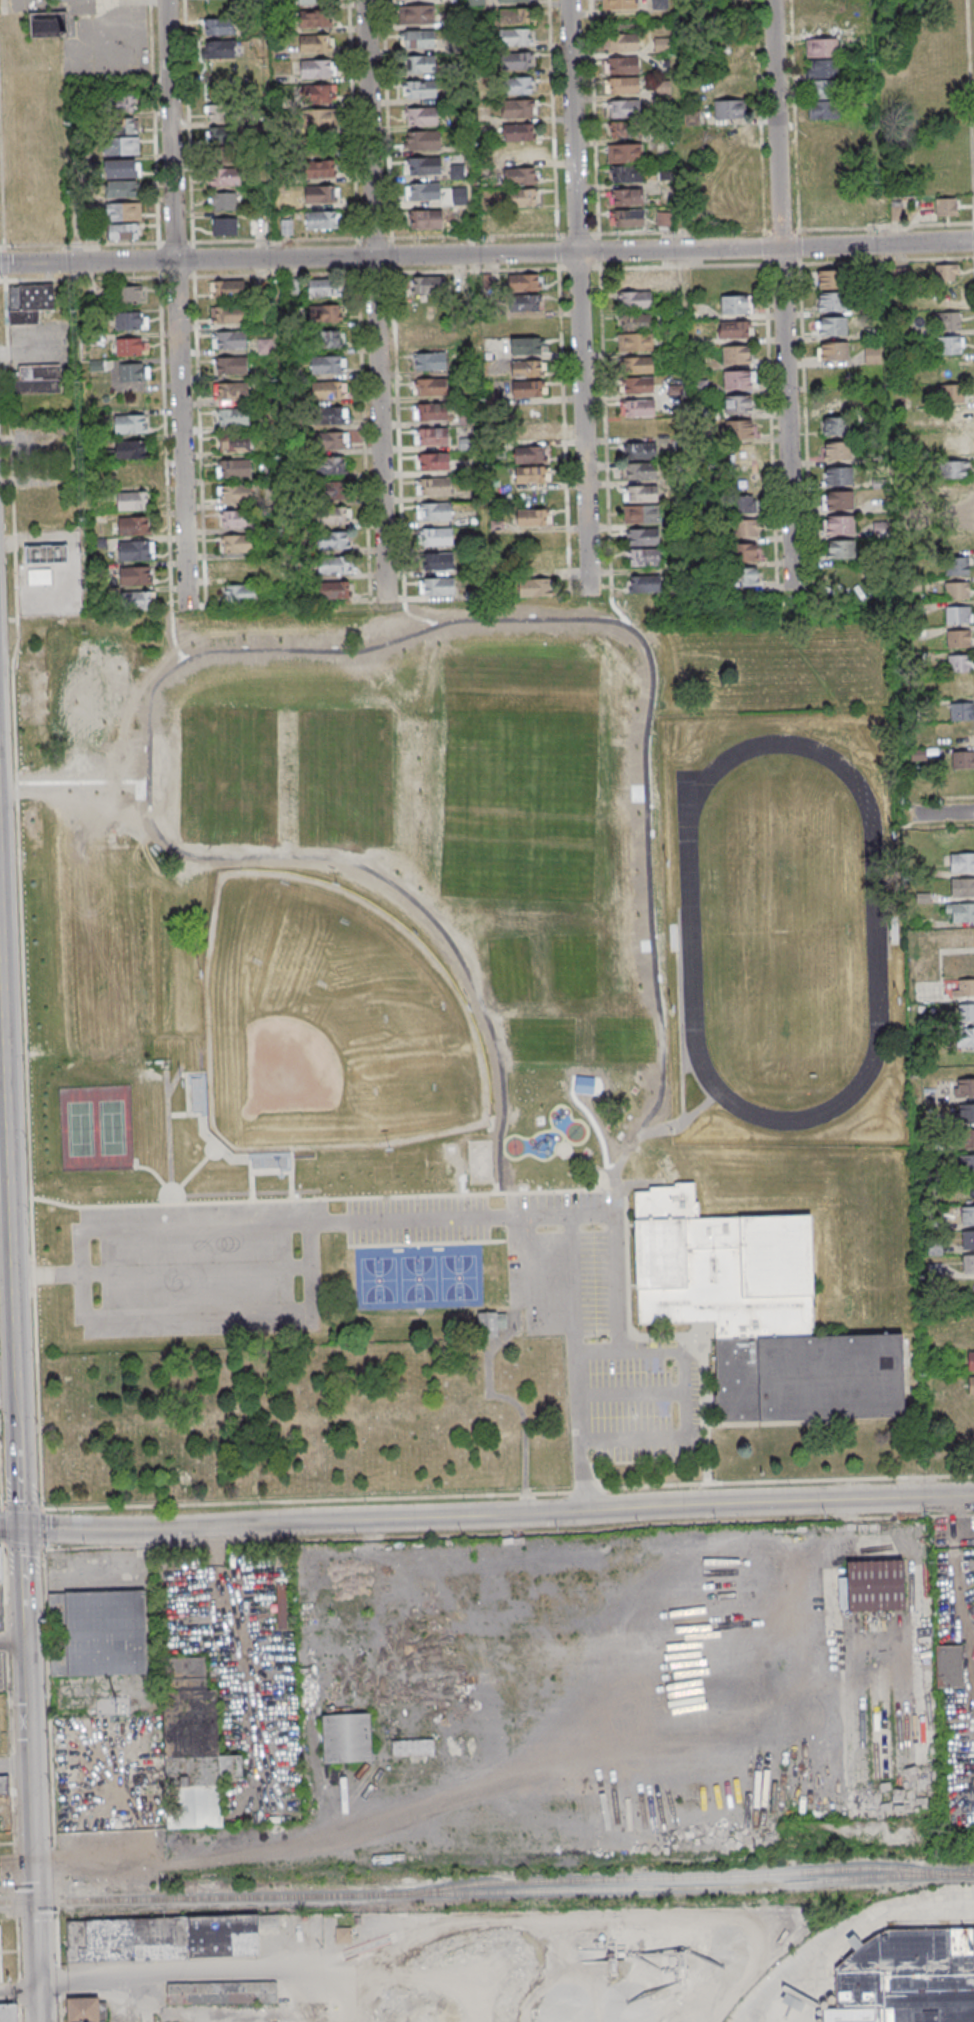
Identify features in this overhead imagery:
building: (312, 1)
building: (514, 1)
building: (624, 4)
building: (421, 13)
building: (516, 16)
building: (314, 18)
building: (46, 25)
building: (220, 26)
building: (821, 27)
building: (517, 37)
building: (421, 39)
building: (316, 43)
building: (625, 43)
building: (221, 48)
building: (821, 49)
building: (518, 60)
building: (422, 64)
building: (626, 64)
building: (317, 68)
building: (822, 70)
building: (519, 86)
building: (626, 86)
building: (662, 89)
building: (423, 90)
building: (319, 93)
building: (823, 100)
building: (120, 104)
building: (627, 109)
building: (520, 110)
building: (729, 110)
building: (222, 112)
building: (424, 116)
road: (554, 117)
building: (319, 119)
building: (122, 126)
building: (624, 129)
building: (517, 132)
building: (225, 134)
road: (596, 134)
building: (427, 140)
building: (124, 146)
building: (624, 152)
building: (225, 153)
building: (524, 153)
building: (427, 165)
building: (124, 168)
building: (319, 168)
building: (627, 173)
building: (521, 175)
building: (224, 176)
building: (125, 188)
building: (427, 192)
building: (321, 195)
building: (522, 197)
building: (627, 197)
building: (225, 202)
building: (945, 206)
building: (126, 212)
building: (826, 214)
building: (870, 215)
building: (627, 218)
building: (425, 219)
building: (321, 220)
building: (664, 220)
building: (521, 221)
building: (227, 227)
building: (126, 232)
road: (487, 253)
road: (888, 262)
road: (702, 266)
building: (947, 272)
building: (636, 279)
building: (833, 279)
building: (524, 281)
building: (426, 284)
building: (290, 286)
building: (321, 288)
building: (231, 289)
building: (129, 294)
road: (786, 294)
road: (581, 297)
road: (378, 300)
building: (637, 300)
building: (29, 302)
building: (525, 302)
building: (835, 302)
road: (179, 305)
building: (739, 305)
building: (328, 314)
building: (232, 315)
building: (131, 320)
building: (948, 320)
building: (637, 322)
building: (836, 326)
building: (737, 330)
building: (429, 335)
building: (329, 339)
building: (234, 340)
building: (637, 342)
building: (949, 344)
building: (526, 345)
building: (129, 346)
building: (264, 346)
building: (491, 349)
building: (837, 351)
road: (81, 353)
building: (741, 355)
building: (872, 355)
building: (431, 362)
building: (327, 365)
building: (639, 365)
building: (234, 366)
building: (528, 368)
building: (133, 371)
building: (36, 380)
building: (741, 380)
building: (639, 386)
building: (432, 388)
building: (525, 388)
building: (327, 390)
building: (234, 392)
building: (954, 394)
building: (494, 400)
building: (836, 400)
building: (739, 405)
building: (640, 409)
building: (433, 412)
building: (327, 415)
building: (236, 418)
building: (465, 418)
building: (130, 423)
building: (839, 427)
building: (739, 430)
building: (530, 431)
road: (282, 433)
building: (434, 437)
building: (333, 440)
building: (237, 442)
building: (954, 446)
building: (131, 449)
building: (640, 450)
building: (840, 451)
building: (531, 454)
building: (742, 455)
building: (435, 462)
building: (332, 466)
building: (238, 469)
building: (955, 470)
building: (642, 471)
building: (532, 474)
building: (841, 477)
building: (436, 487)
building: (335, 489)
building: (643, 494)
building: (239, 495)
building: (954, 495)
building: (133, 500)
building: (843, 501)
building: (745, 504)
building: (437, 512)
building: (644, 514)
building: (333, 515)
building: (956, 515)
building: (533, 517)
building: (239, 519)
building: (133, 525)
building: (843, 526)
building: (746, 527)
building: (437, 537)
building: (645, 538)
building: (956, 540)
building: (333, 541)
building: (240, 545)
building: (135, 550)
building: (844, 550)
building: (745, 552)
building: (45, 553)
building: (646, 558)
building: (536, 560)
building: (439, 562)
building: (333, 565)
road: (204, 567)
building: (959, 567)
building: (238, 568)
building: (134, 575)
building: (39, 576)
building: (746, 576)
building: (647, 584)
building: (439, 587)
building: (535, 587)
road: (793, 589)
building: (334, 590)
building: (959, 592)
building: (242, 594)
road: (591, 594)
building: (139, 600)
road: (386, 602)
road: (616, 610)
road: (415, 615)
building: (960, 616)
road: (172, 637)
building: (961, 640)
road: (276, 649)
building: (962, 664)
road: (816, 675)
building: (962, 688)
building: (963, 712)
building: (957, 737)
building: (962, 760)
park: (226, 776)
park: (343, 778)
park: (517, 778)
road: (81, 781)
road: (641, 792)
road: (933, 812)
road: (941, 813)
road: (897, 828)
building: (963, 863)
building: (964, 888)
building: (964, 914)
track: (782, 930)
stadium: (893, 930)
park: (783, 933)
road: (648, 945)
park: (574, 966)
park: (509, 967)
building: (966, 990)
park: (485, 1005)
road: (678, 1012)
building: (967, 1014)
park: (330, 1025)
park: (539, 1038)
park: (623, 1038)
building: (967, 1039)
road: (173, 1079)
building: (584, 1084)
road: (187, 1088)
building: (967, 1089)
road: (577, 1101)
road: (203, 1115)
building: (968, 1115)
park: (95, 1129)
road: (167, 1132)
building: (968, 1140)
road: (221, 1153)
park: (480, 1160)
road: (584, 1162)
building: (969, 1166)
road: (285, 1172)
road: (639, 1182)
road: (7, 1185)
road: (461, 1186)
road: (166, 1187)
road: (495, 1187)
building: (969, 1190)
road: (245, 1191)
road: (508, 1192)
road: (613, 1197)
building: (969, 1217)
parking lot: (418, 1220)
road: (346, 1222)
road: (438, 1243)
building: (970, 1243)
building: (935, 1248)
building: (970, 1266)
road: (311, 1267)
building: (721, 1268)
parking lot: (202, 1270)
road: (160, 1271)
road: (82, 1274)
park: (418, 1278)
road: (532, 1293)
road: (198, 1313)
building: (490, 1324)
parking lot: (598, 1331)
road: (487, 1346)
road: (576, 1363)
building: (972, 1363)
building: (808, 1378)
building: (973, 1386)
road: (631, 1394)
road: (684, 1396)
road: (510, 1399)
park: (308, 1419)
road: (761, 1424)
road: (634, 1462)
road: (20, 1470)
road: (42, 1507)
road: (486, 1514)
traffic signals: (25, 1528)
building: (0, 1566)
road: (24, 1575)
building: (873, 1585)
building: (281, 1606)
road: (24, 1632)
building: (99, 1635)
road: (12, 1641)
building: (948, 1667)
building: (347, 1737)
building: (194, 1745)
building: (412, 1748)
road: (14, 1764)
building: (5, 1787)
road: (31, 1831)
road: (16, 1857)
railway: (675, 1876)
railway: (504, 1891)
railway: (17, 1903)
railway: (933, 1921)
road: (847, 1930)
building: (342, 1936)
building: (166, 1938)
building: (2, 1957)
road: (98, 1974)
building: (907, 1978)
building: (231, 1992)
road: (18, 1993)
building: (83, 2009)
building: (8, 2012)

